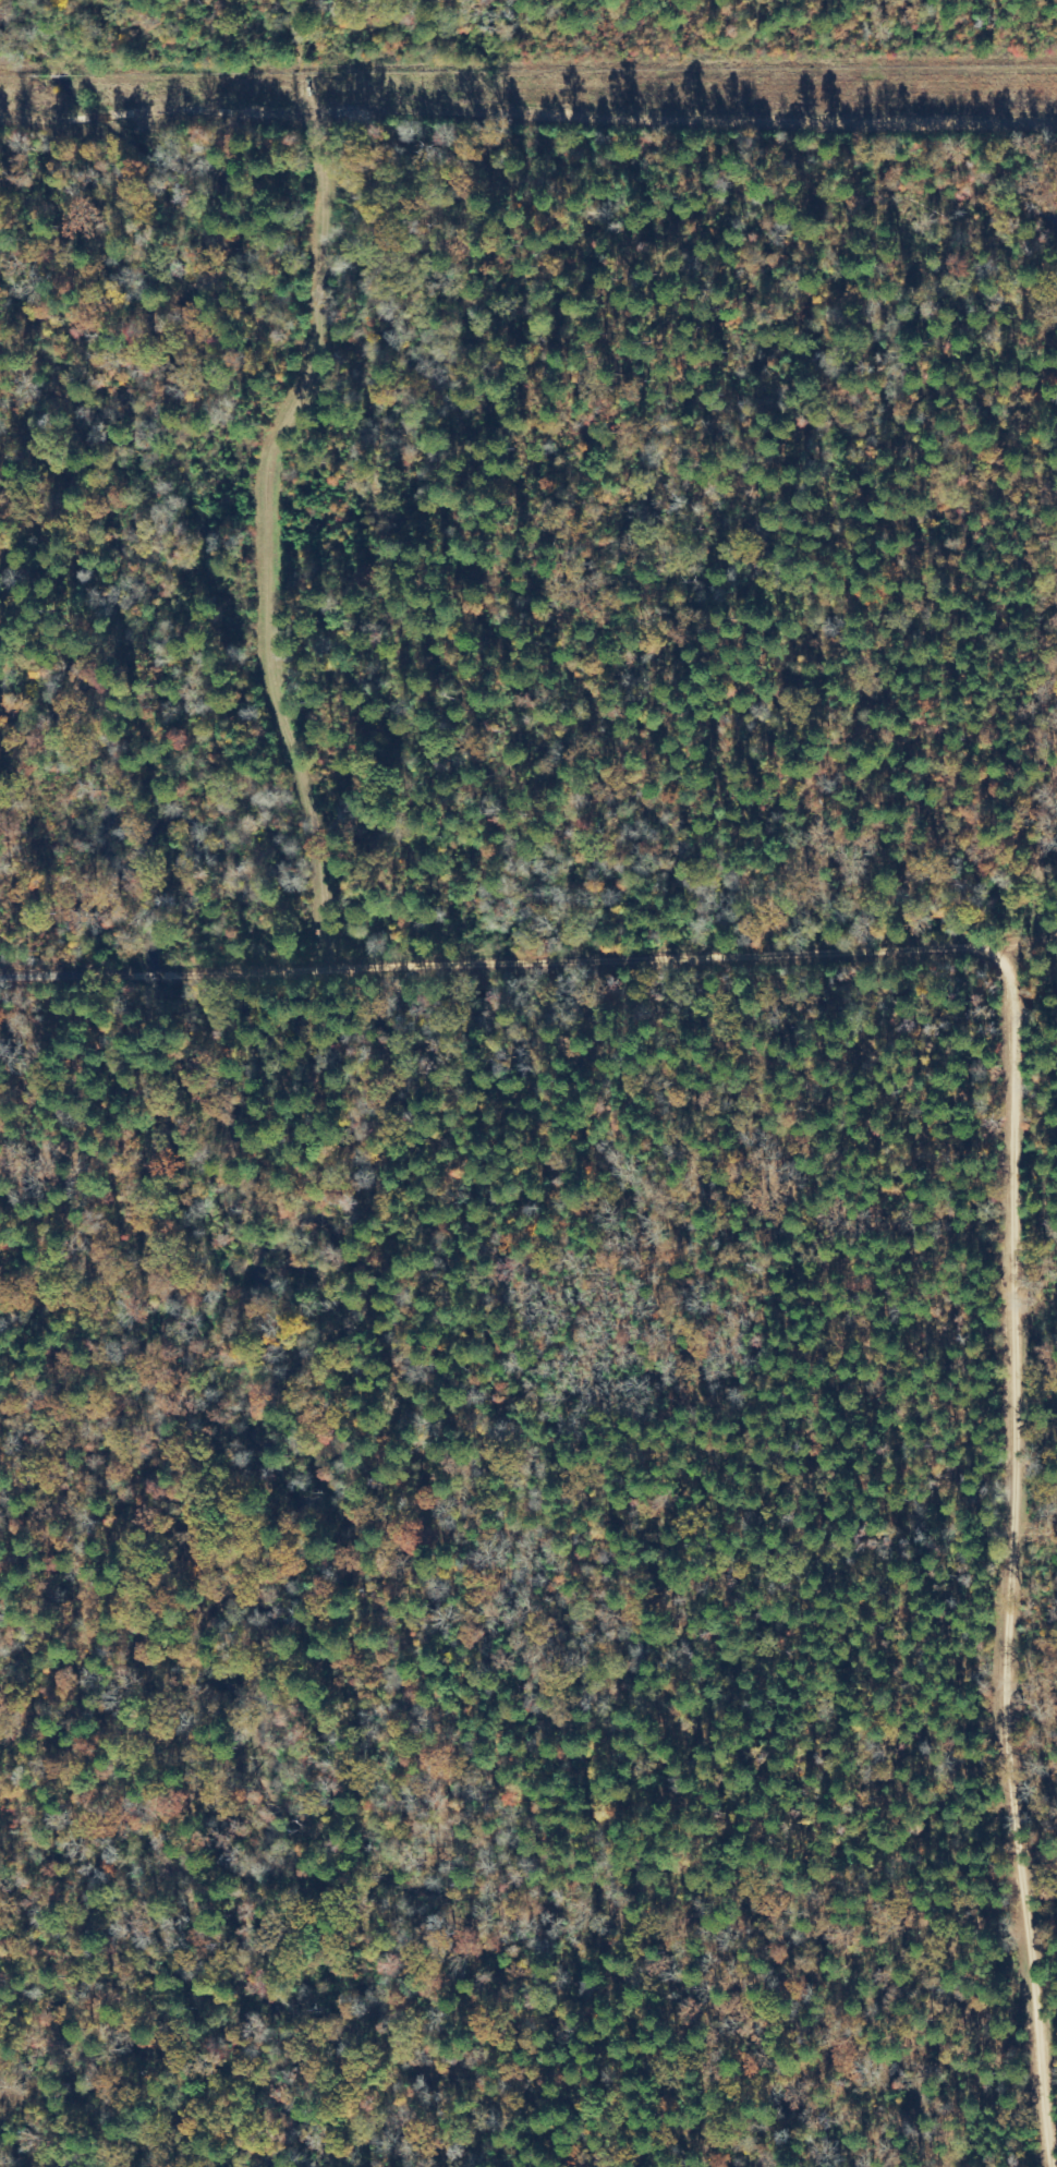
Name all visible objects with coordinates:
road: (315, 468)
road: (527, 940)
road: (989, 1543)

